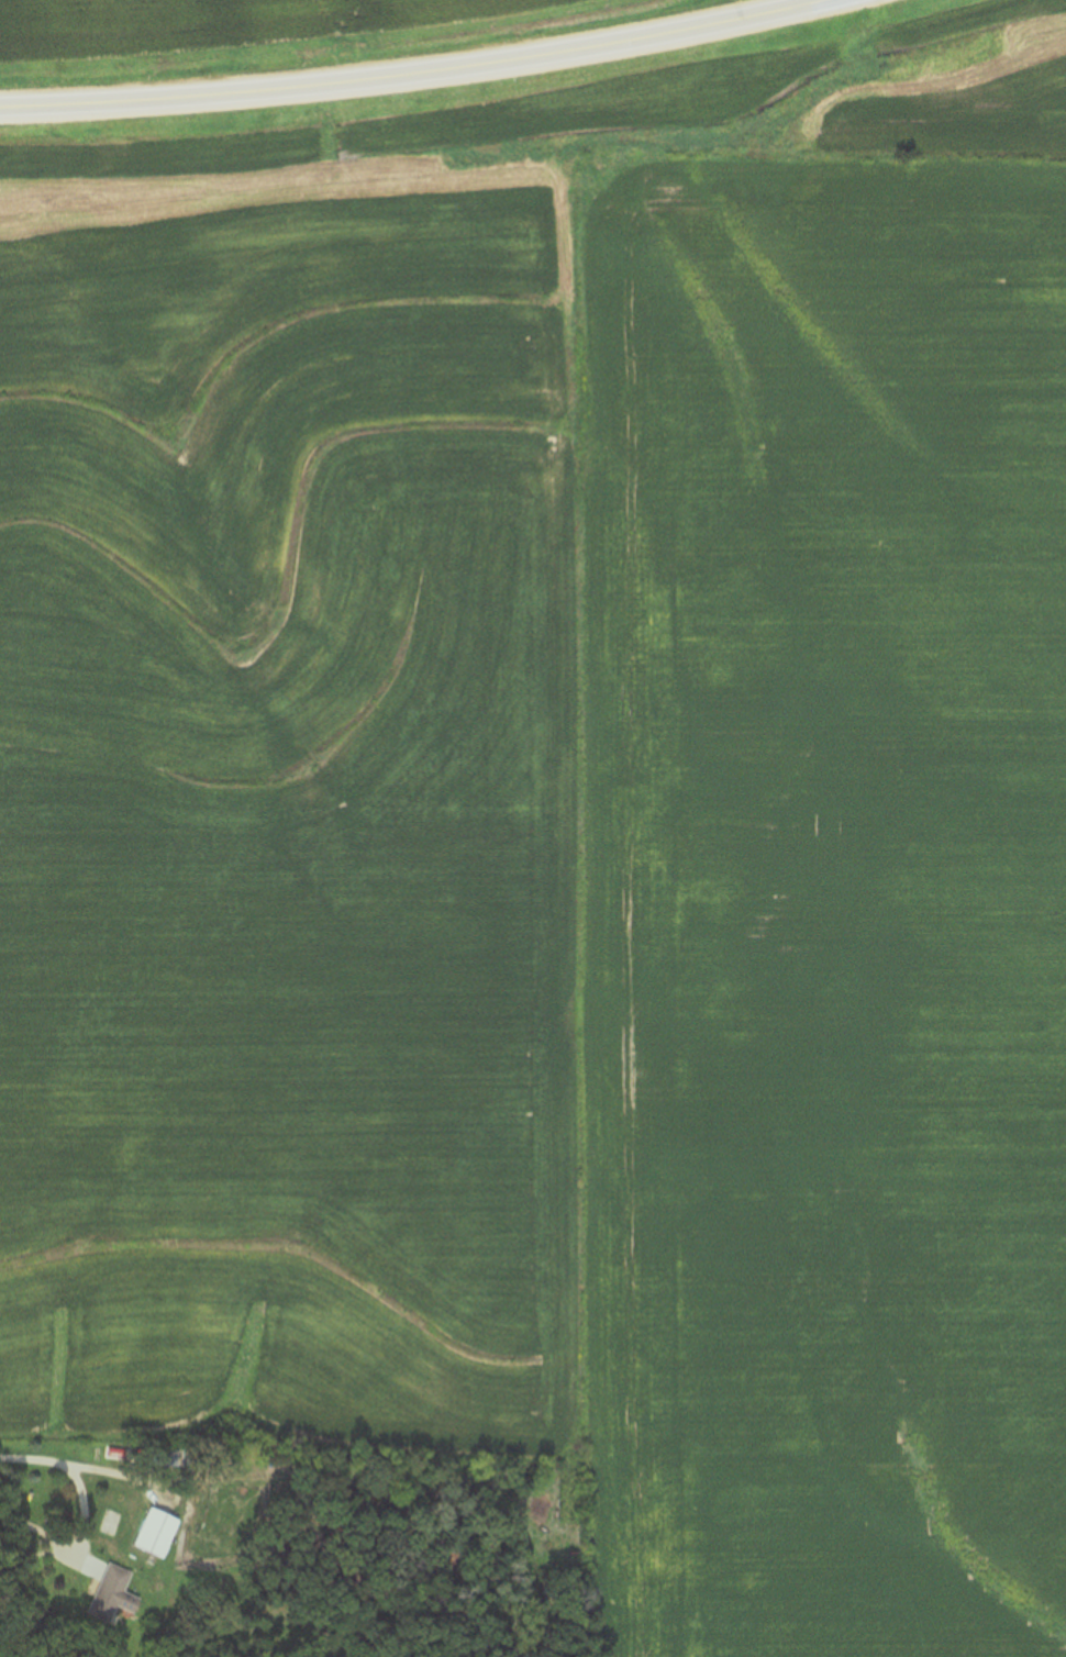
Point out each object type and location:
road: (406, 70)
road: (74, 1481)
building: (162, 1534)
building: (115, 1595)

